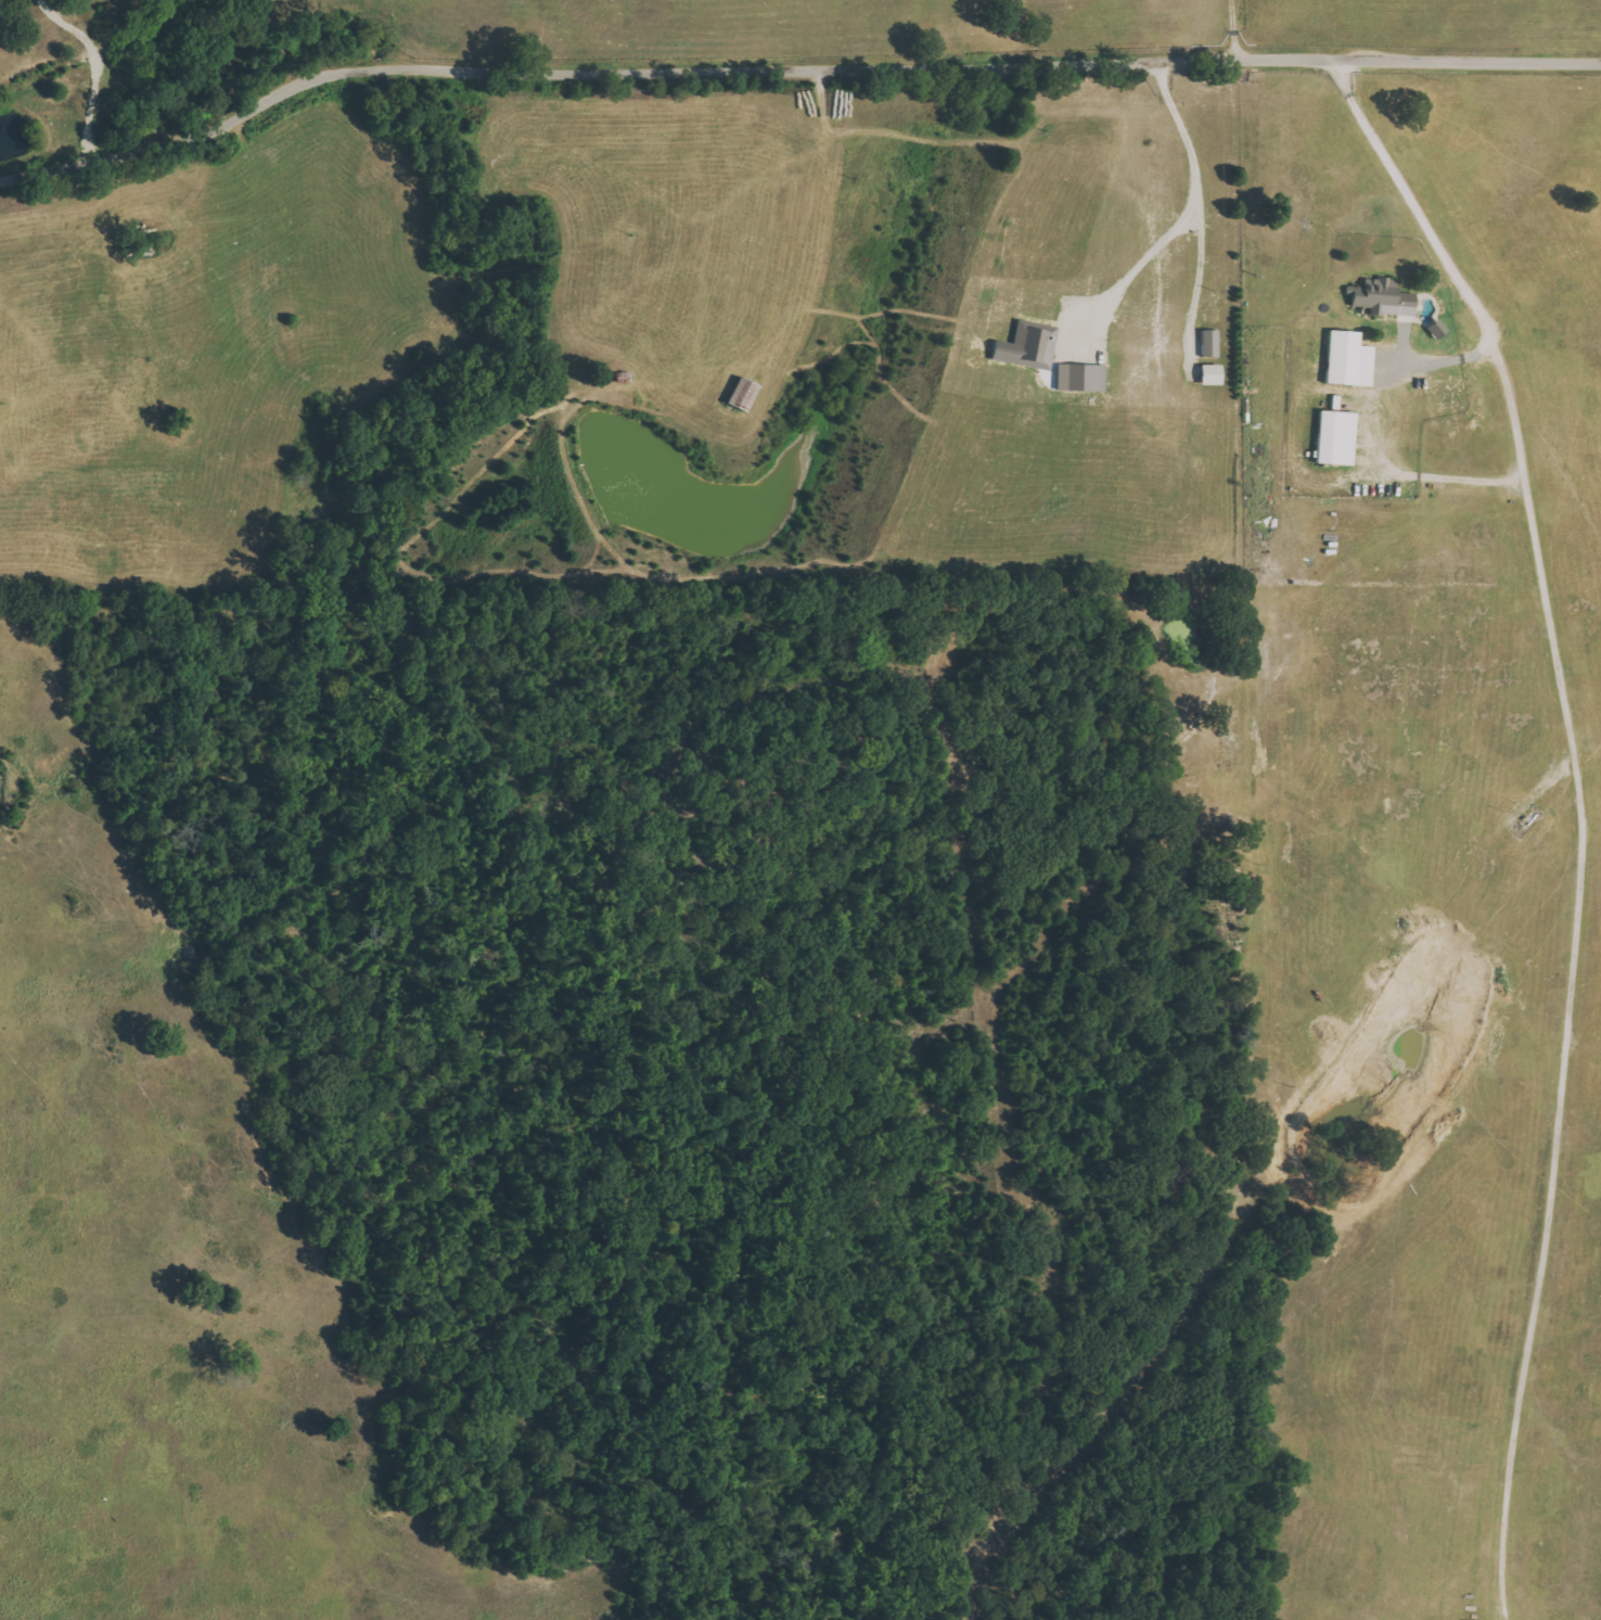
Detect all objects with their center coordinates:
road: (98, 72)
road: (790, 72)
road: (1443, 240)
building: (1382, 298)
building: (1209, 343)
building: (1348, 359)
building: (1209, 374)
building: (1335, 438)

